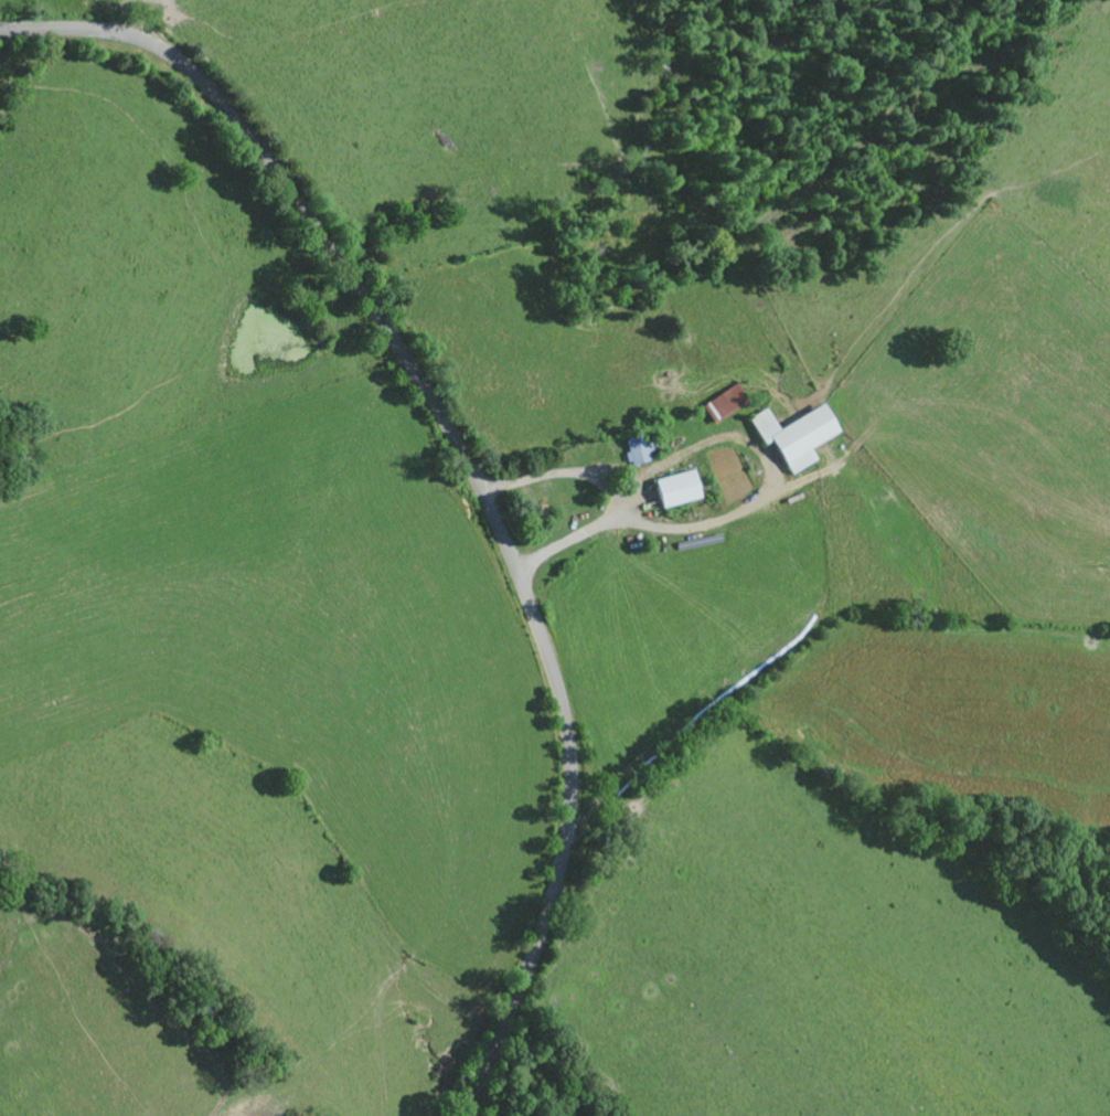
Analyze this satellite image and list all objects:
building: (724, 405)
building: (794, 438)
building: (637, 453)
road: (469, 467)
building: (676, 492)

